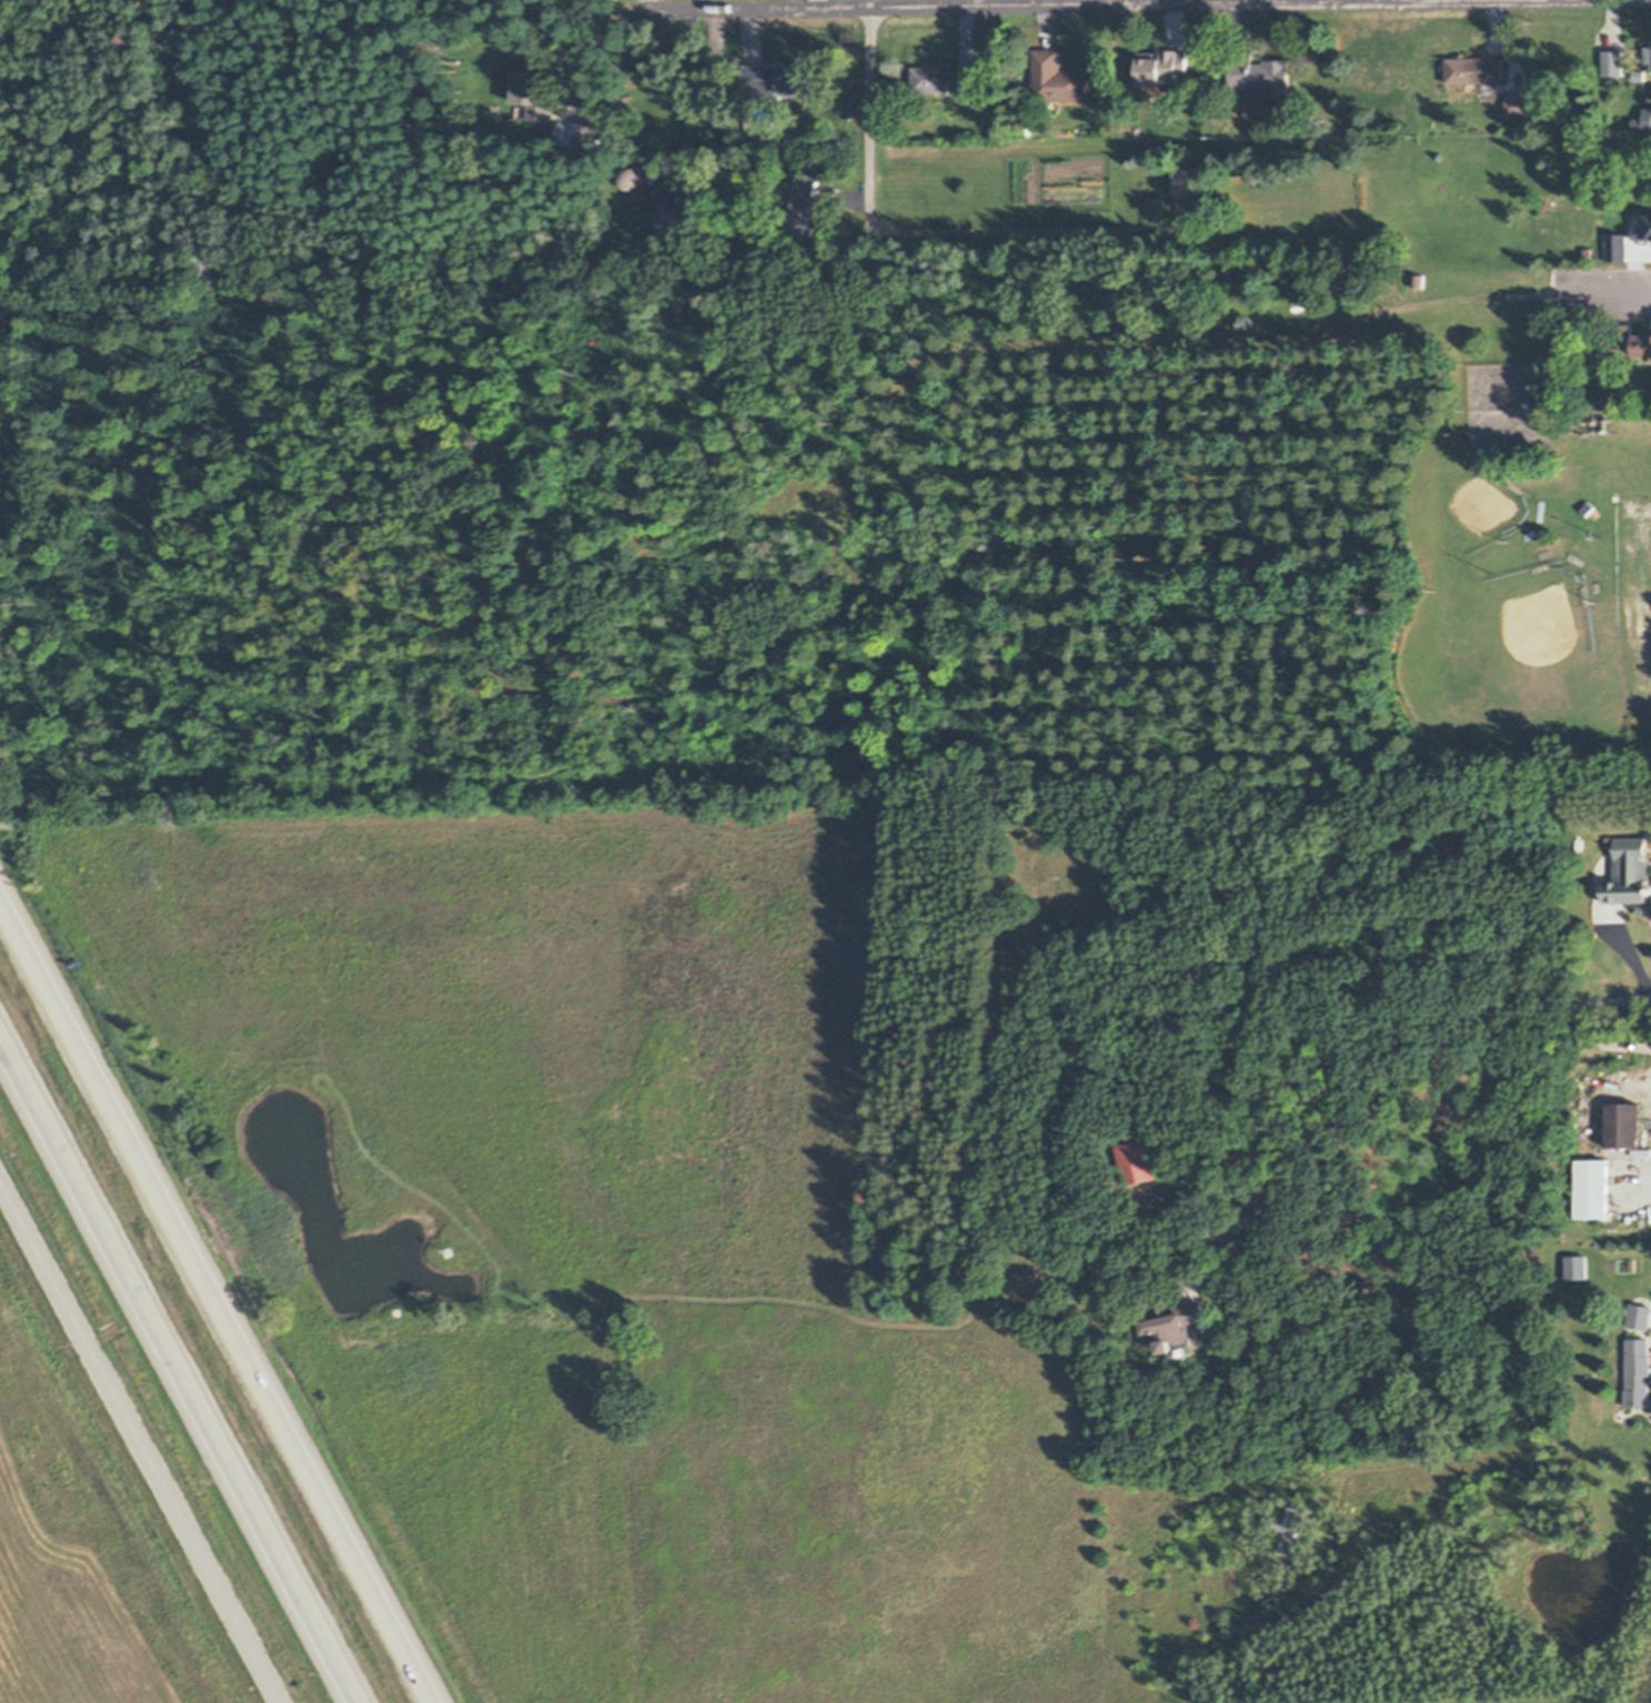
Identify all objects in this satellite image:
road: (1393, 1)
road: (864, 4)
road: (1138, 4)
building: (1650, 59)
building: (1613, 62)
building: (1165, 65)
building: (1476, 70)
building: (1261, 73)
building: (1639, 75)
road: (615, 78)
building: (933, 78)
building: (1057, 78)
building: (776, 81)
building: (967, 81)
building: (534, 90)
road: (679, 90)
building: (1518, 102)
building: (719, 104)
road: (863, 105)
building: (1643, 121)
building: (1581, 123)
building: (583, 132)
building: (1582, 141)
building: (633, 178)
building: (1182, 180)
building: (808, 183)
building: (672, 210)
building: (803, 214)
road: (1019, 224)
building: (1643, 231)
building: (1618, 246)
road: (1630, 272)
building: (1419, 280)
building: (1307, 303)
building: (1632, 340)
building: (1507, 407)
building: (1588, 507)
building: (1540, 510)
building: (1529, 534)
building: (1544, 553)
building: (1576, 558)
building: (1594, 585)
building: (1579, 844)
building: (1631, 871)
road: (1427, 1044)
building: (1623, 1126)
building: (1136, 1161)
building: (1592, 1188)
road: (1184, 1272)
road: (215, 1300)
building: (1640, 1316)
building: (1174, 1326)
building: (1177, 1354)
building: (1623, 1368)
road: (179, 1370)
building: (1639, 1373)
road: (139, 1449)
building: (1291, 1530)

